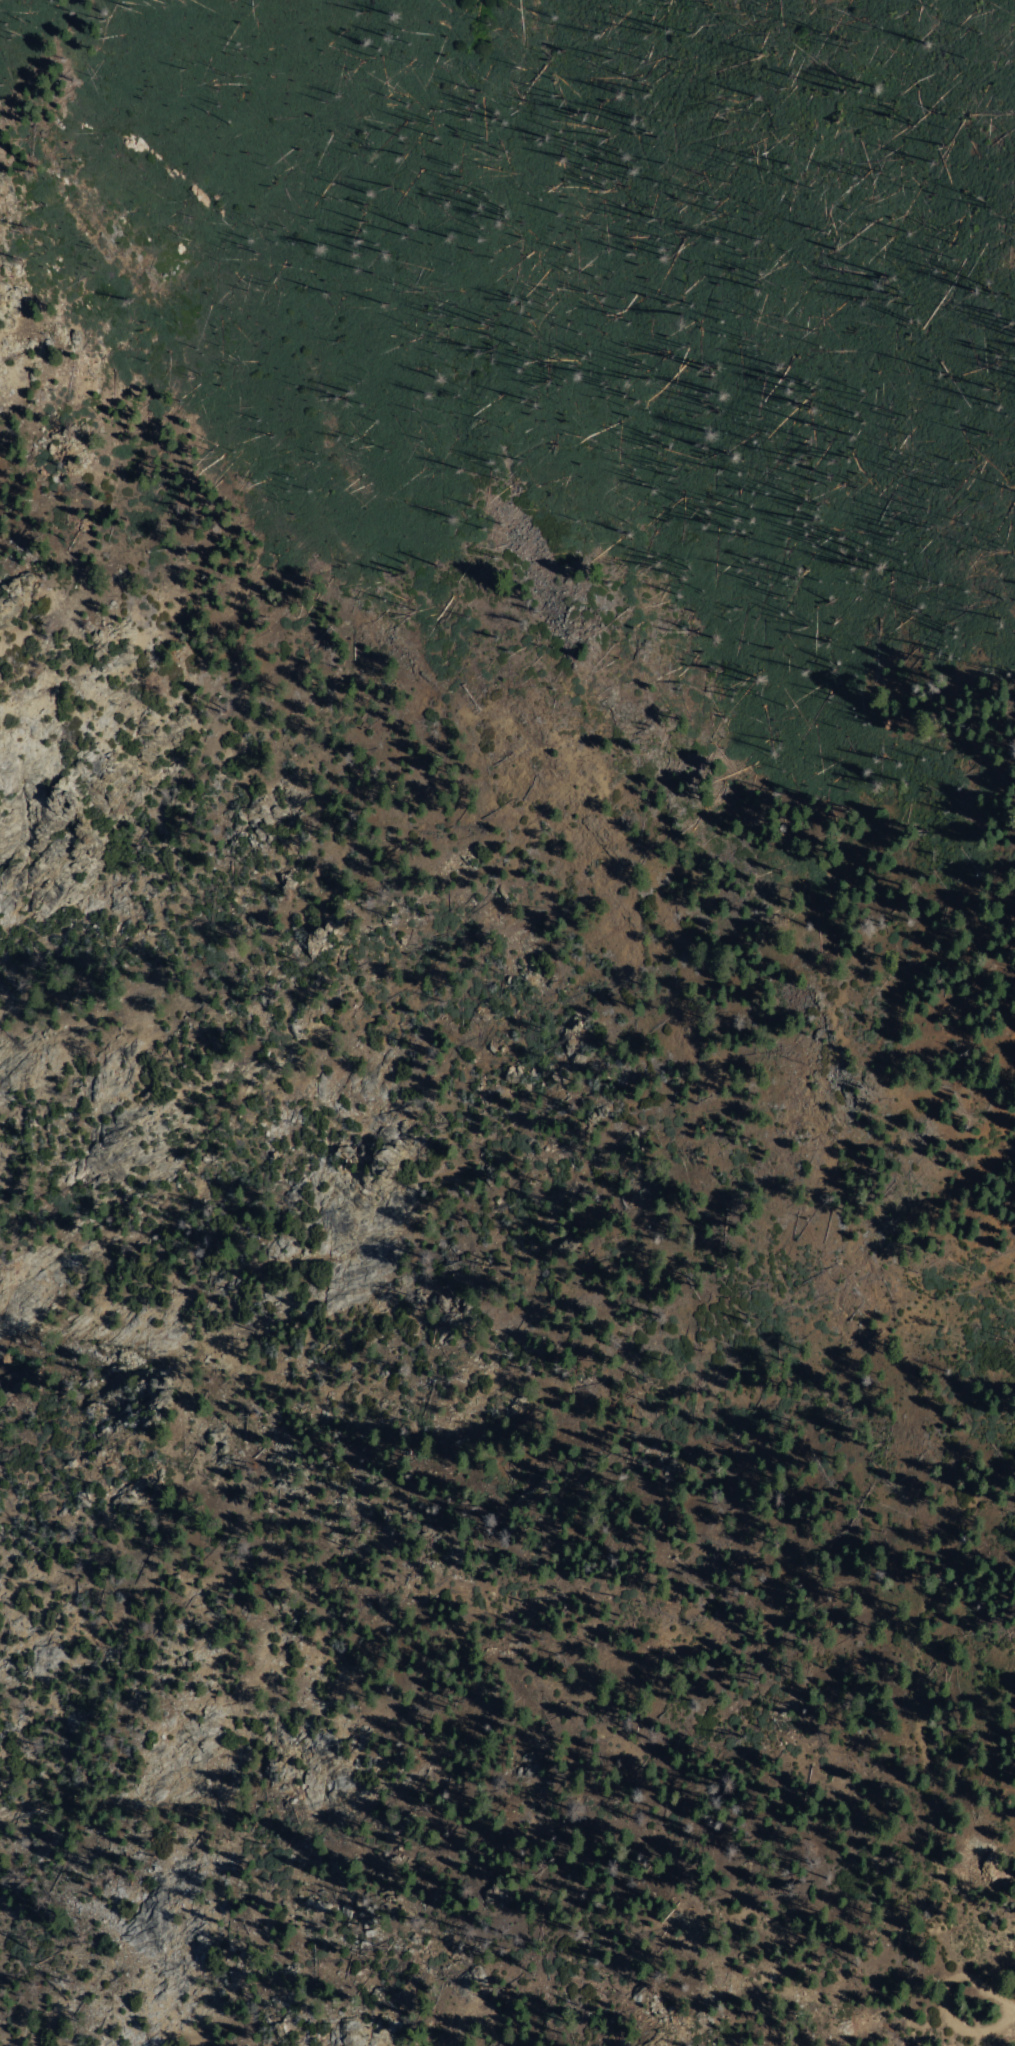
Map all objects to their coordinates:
road: (946, 2000)

